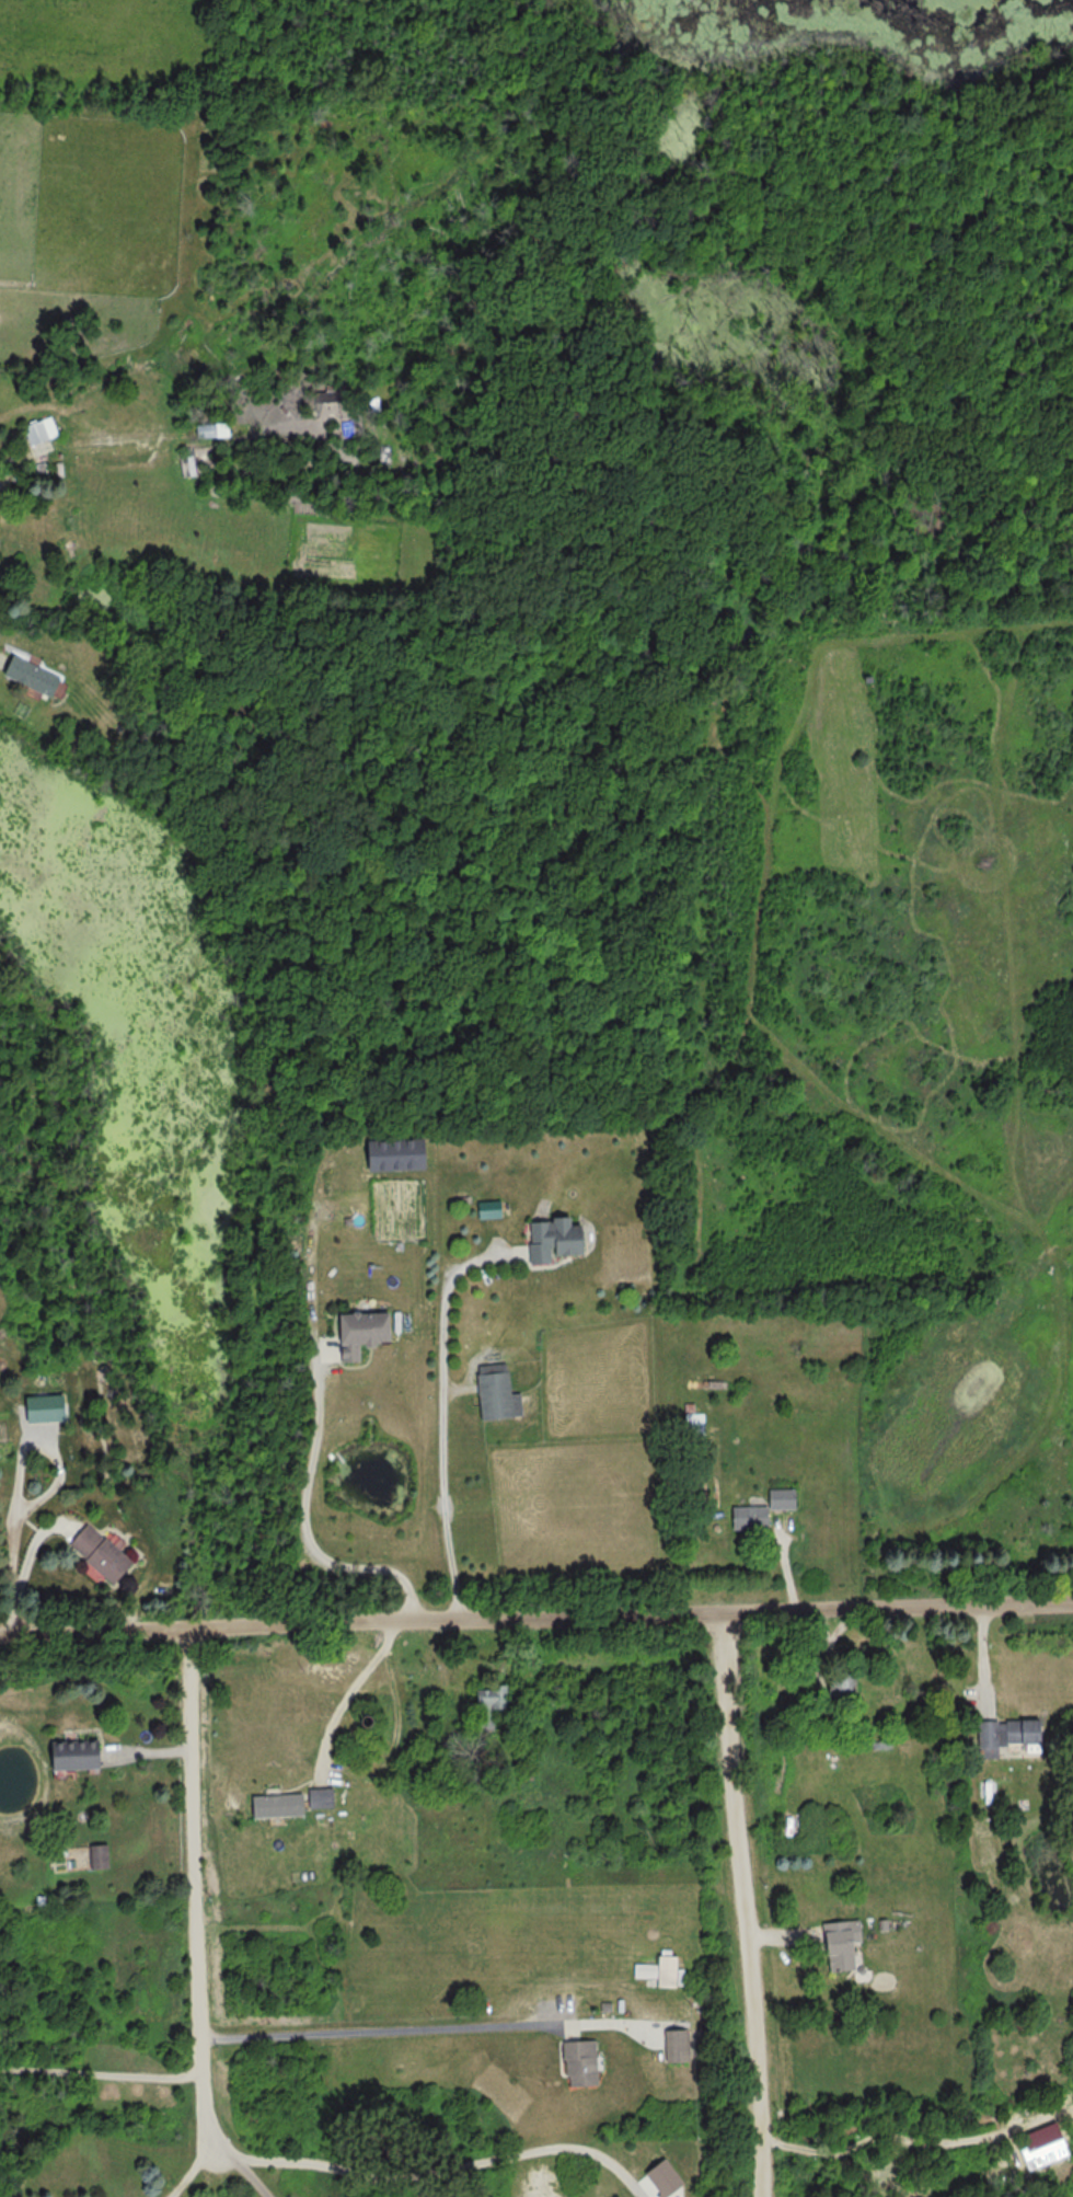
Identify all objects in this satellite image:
building: (211, 429)
building: (39, 430)
building: (31, 676)
road: (311, 1239)
building: (553, 1240)
building: (353, 1331)
building: (492, 1391)
road: (441, 1412)
building: (691, 1427)
building: (759, 1508)
road: (309, 1517)
building: (93, 1553)
road: (22, 1568)
road: (899, 1606)
road: (362, 1621)
building: (833, 1683)
road: (349, 1688)
building: (486, 1698)
building: (1002, 1735)
building: (67, 1755)
building: (987, 1796)
building: (316, 1797)
building: (272, 1805)
building: (94, 1855)
road: (195, 1889)
road: (743, 1903)
building: (833, 1943)
building: (660, 1970)
road: (373, 2027)
building: (672, 2044)
building: (575, 2062)
road: (97, 2072)
road: (880, 2137)
road: (432, 2170)
road: (189, 2171)
road: (238, 2172)

